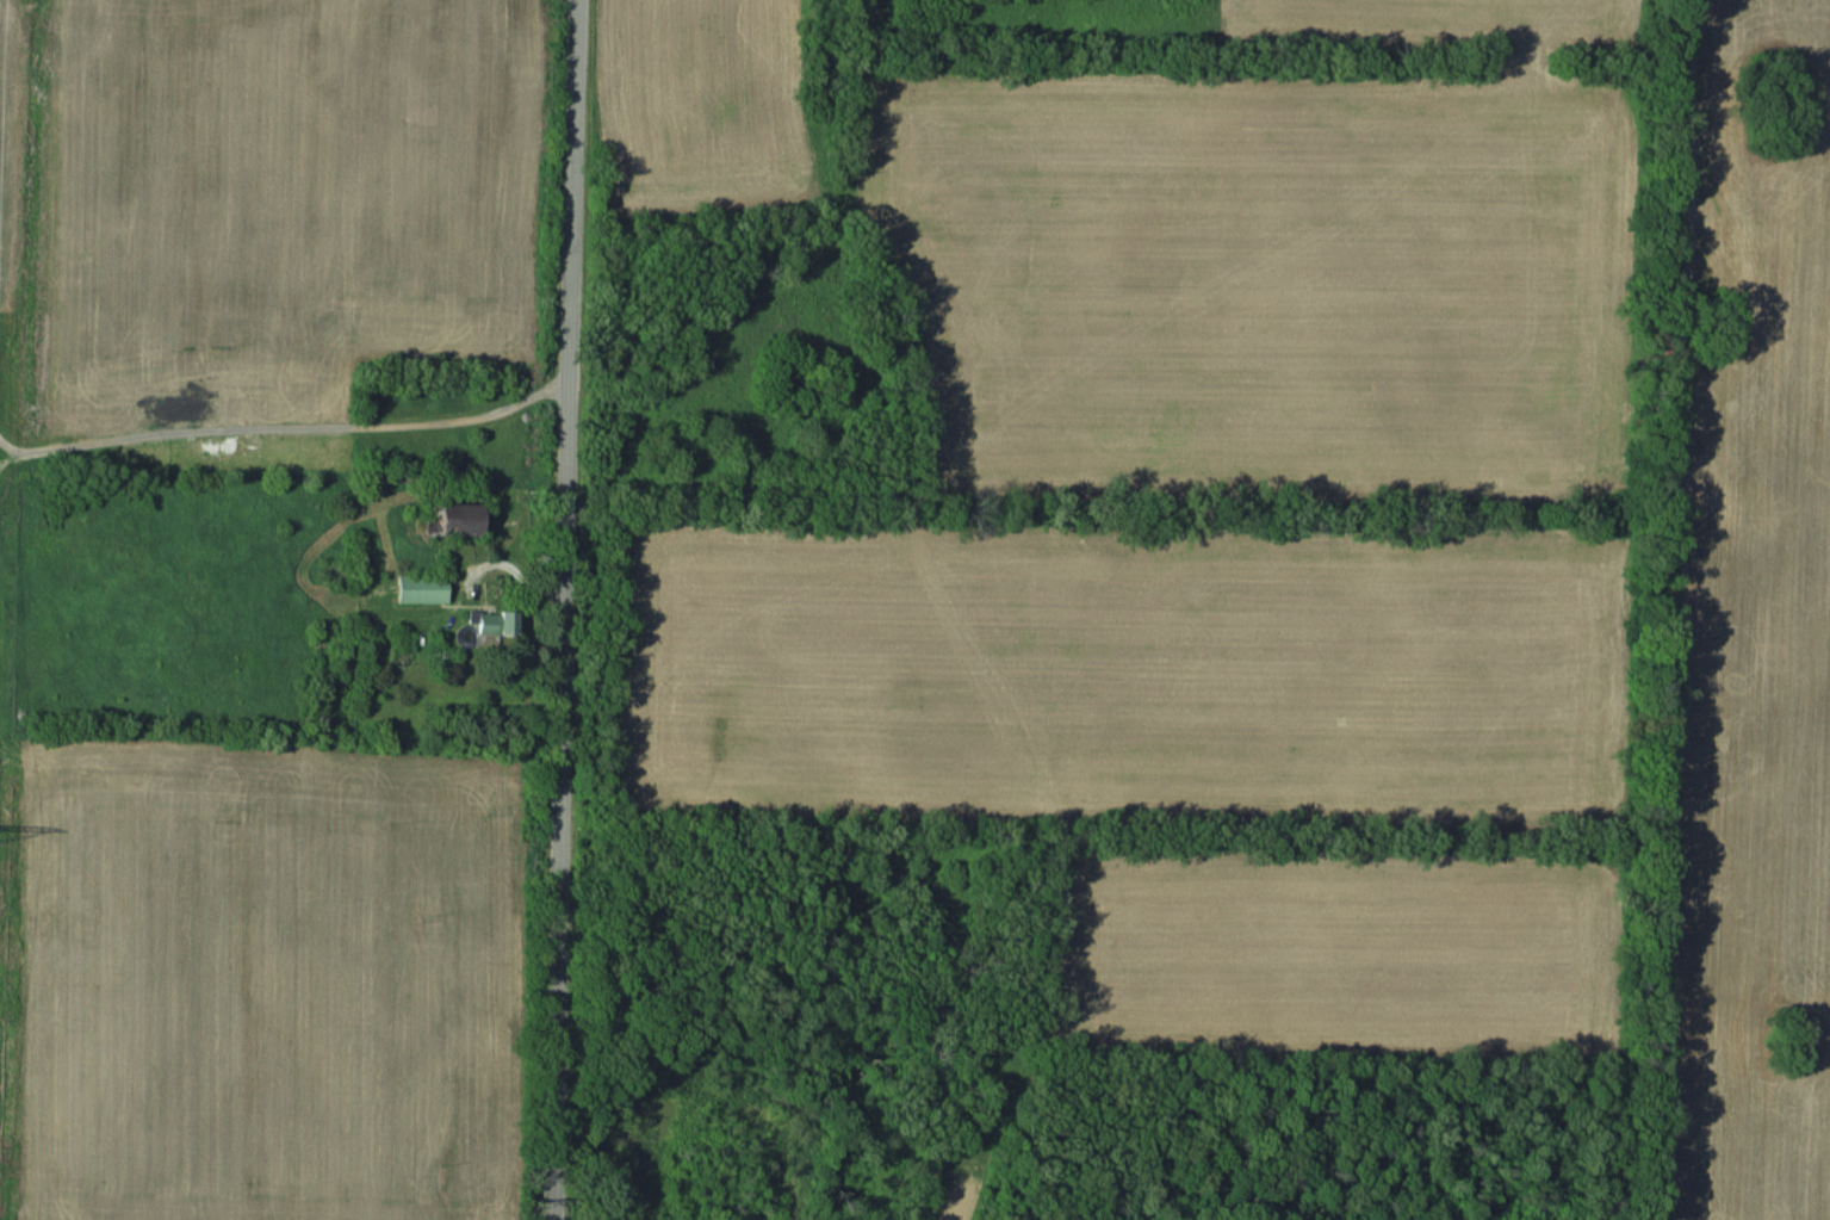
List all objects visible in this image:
road: (287, 427)
building: (498, 506)
building: (457, 518)
building: (424, 588)
road: (566, 609)
building: (500, 620)
road: (367, 1016)

